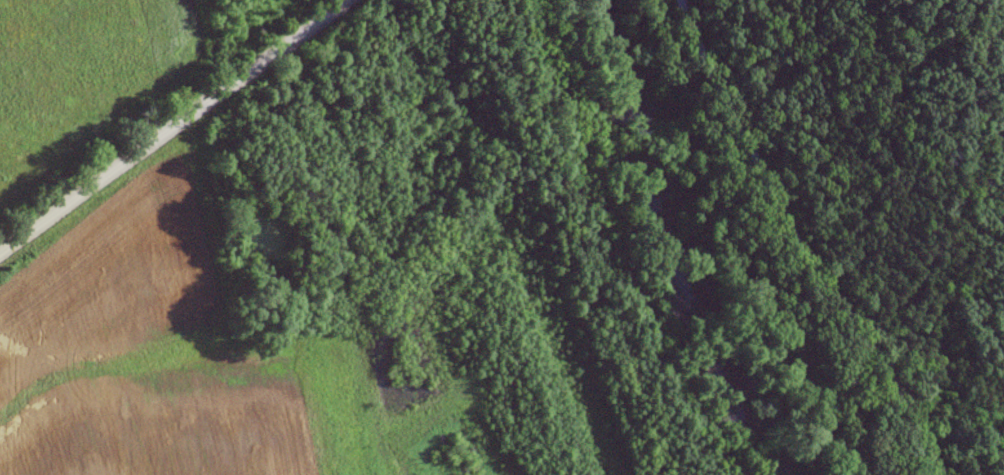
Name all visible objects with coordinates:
road: (172, 125)
road: (790, 242)

